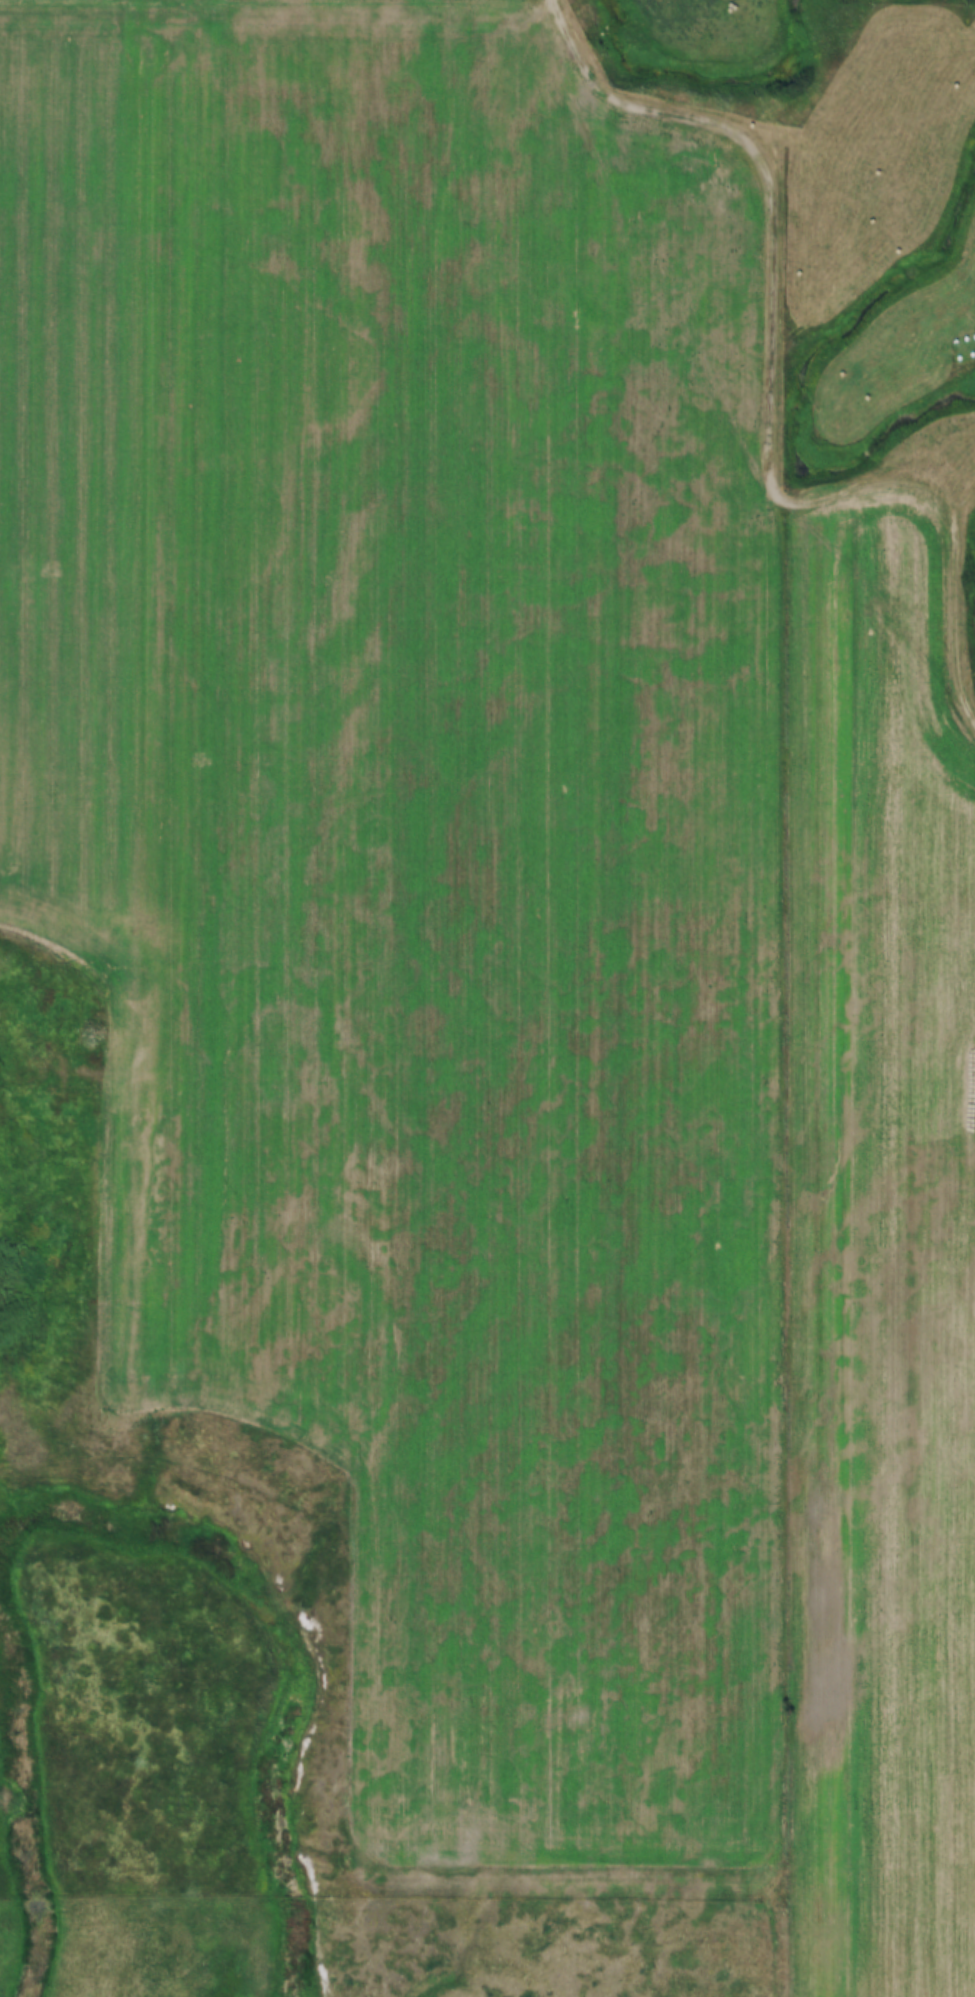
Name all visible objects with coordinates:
road: (782, 936)
road: (68, 974)
quarry: (0, 1774)

